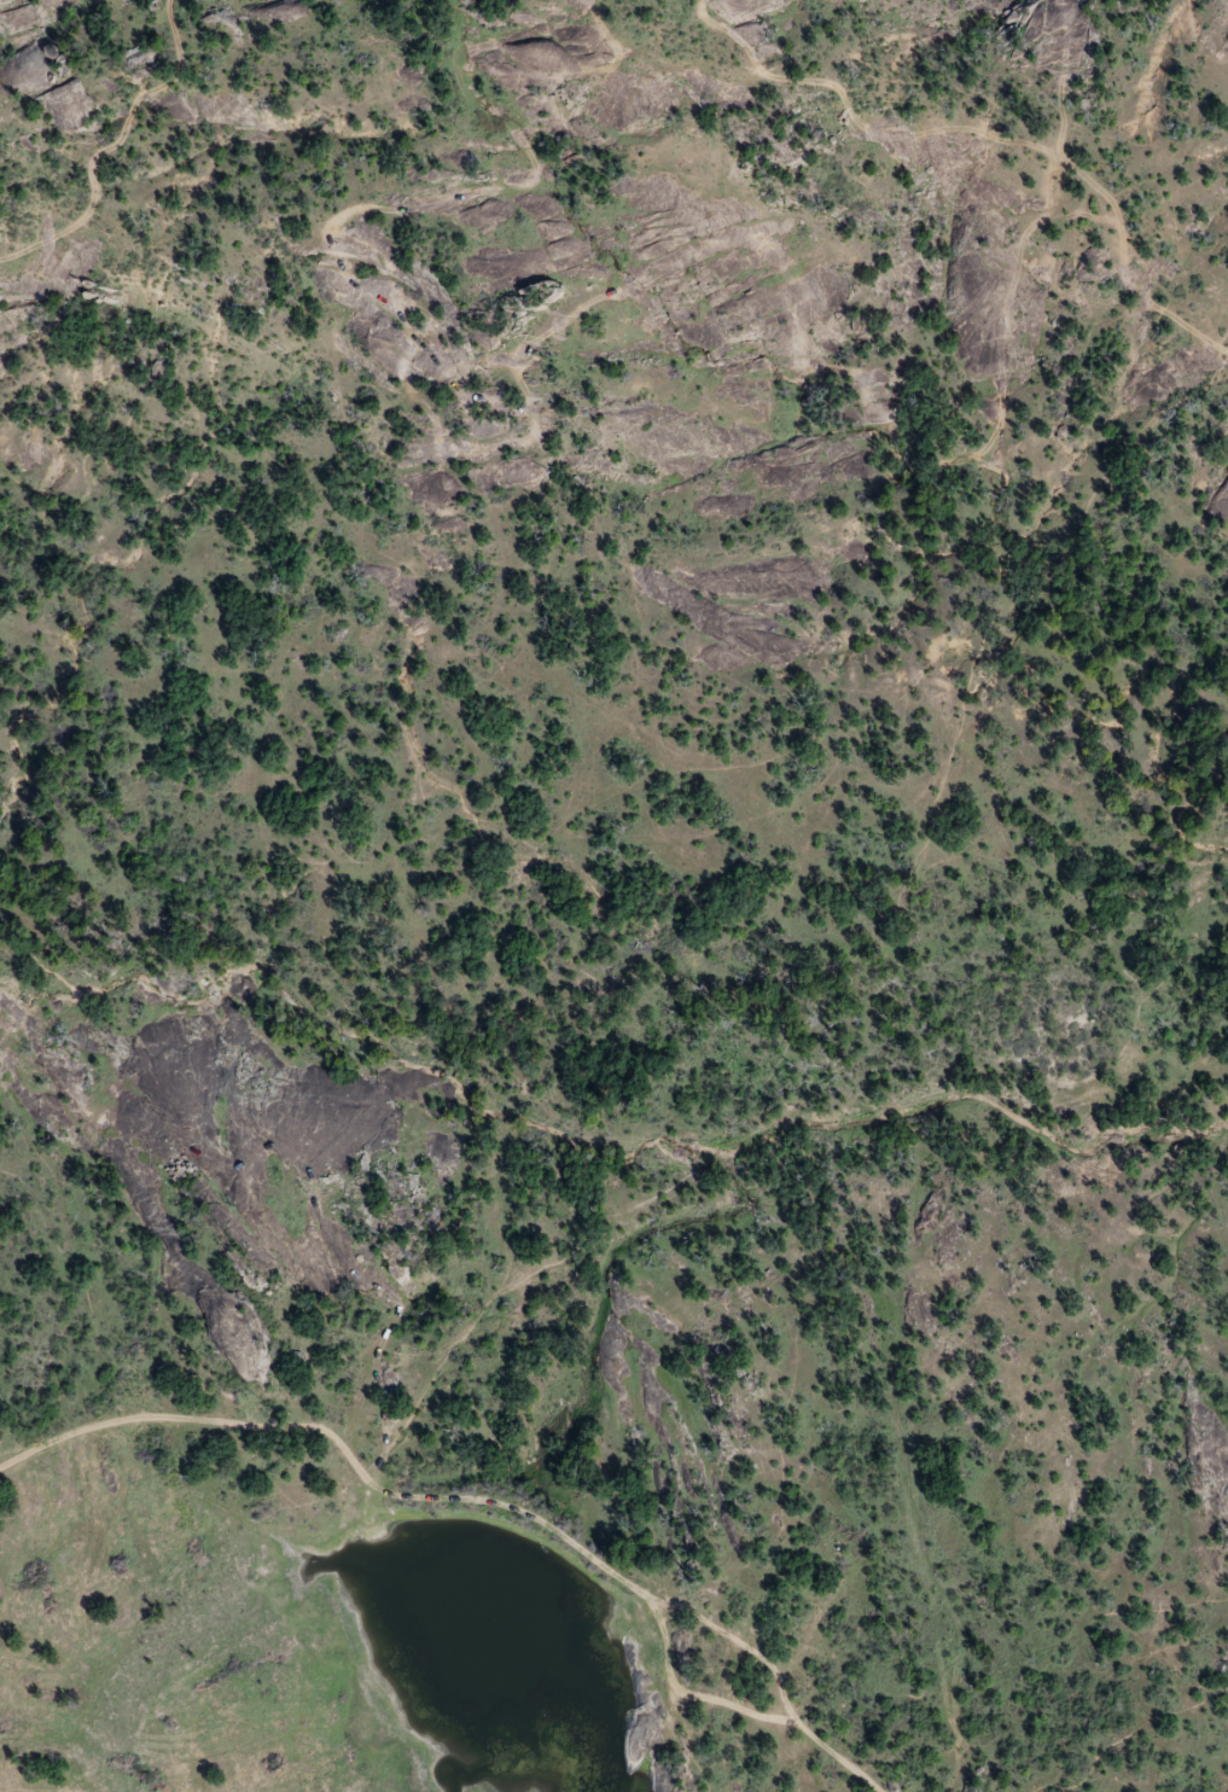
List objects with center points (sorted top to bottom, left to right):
road: (887, 1781)

